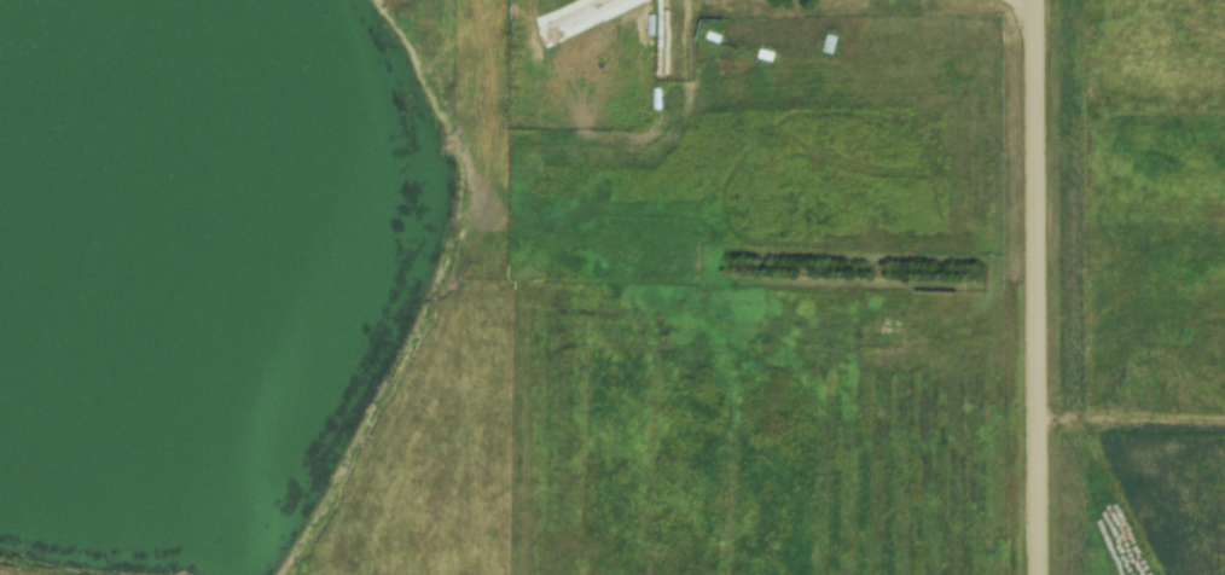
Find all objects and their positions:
road: (1038, 287)

